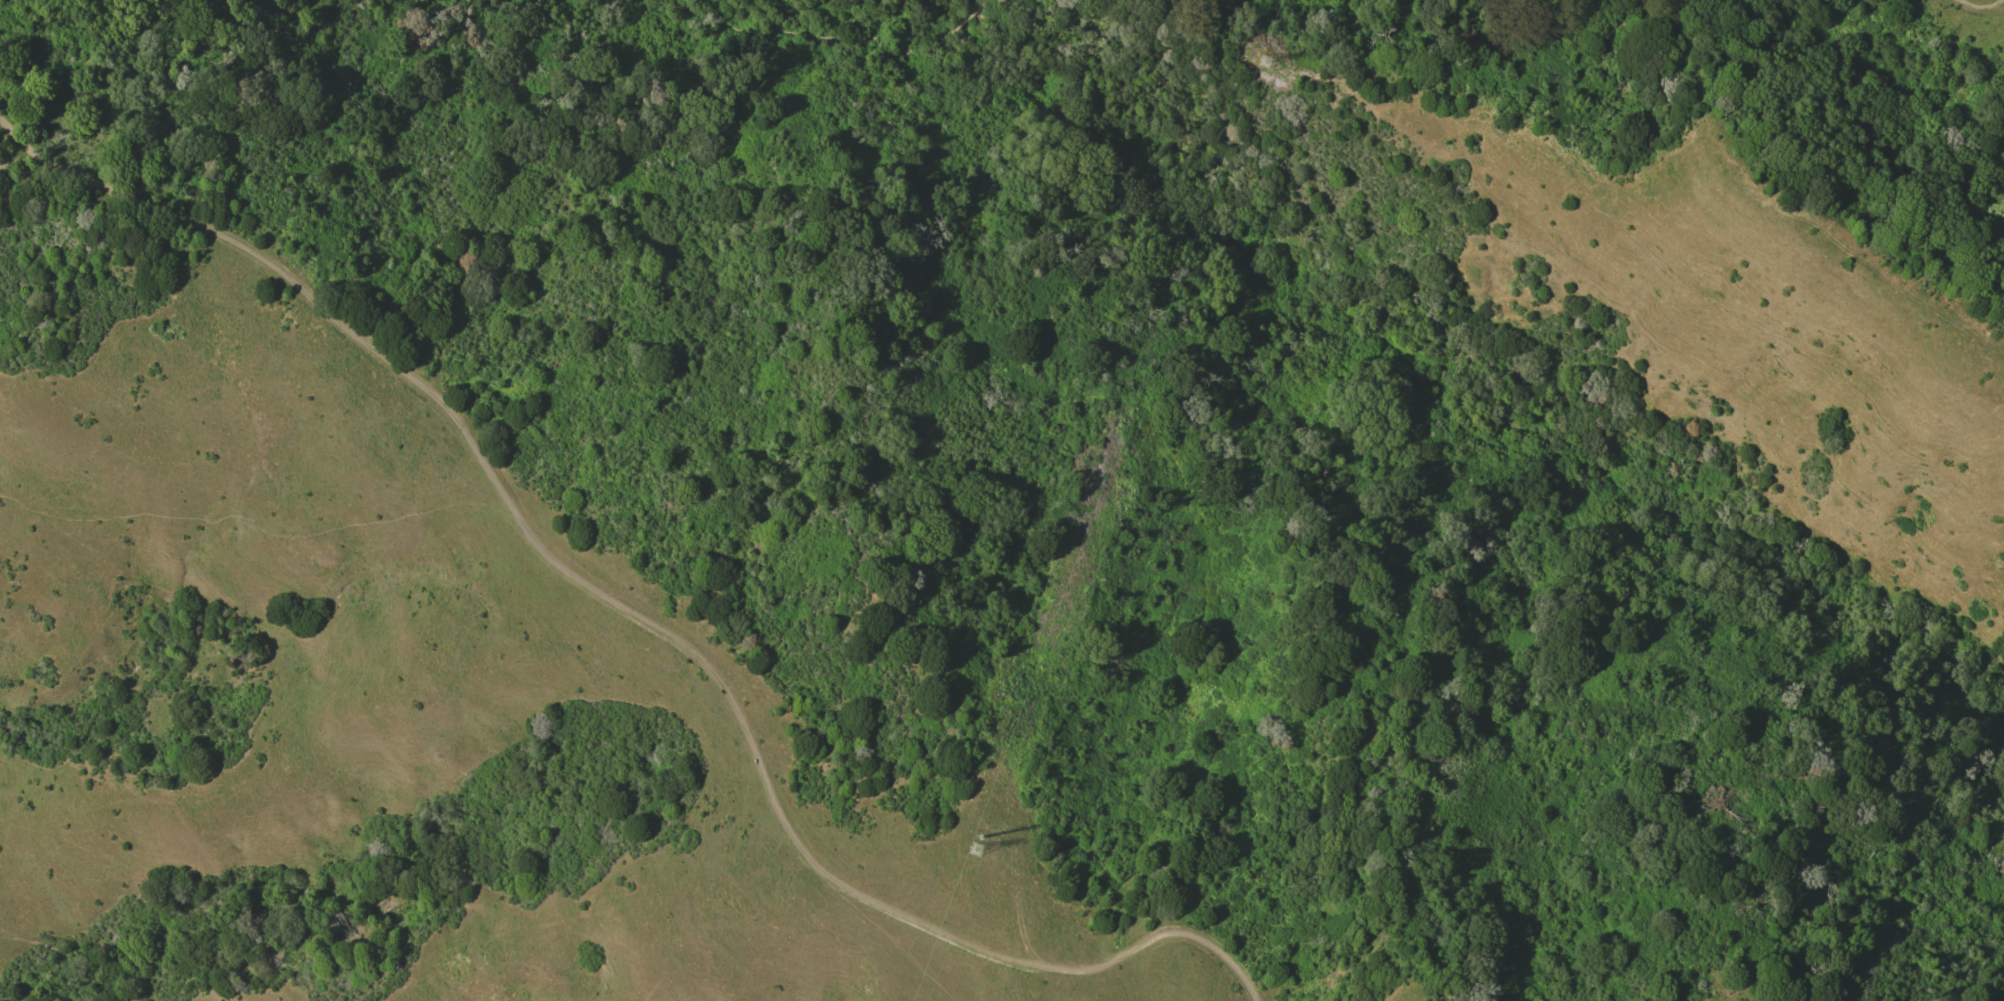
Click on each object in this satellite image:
road: (1973, 8)
road: (820, 34)
road: (637, 610)
power tower: (975, 851)

